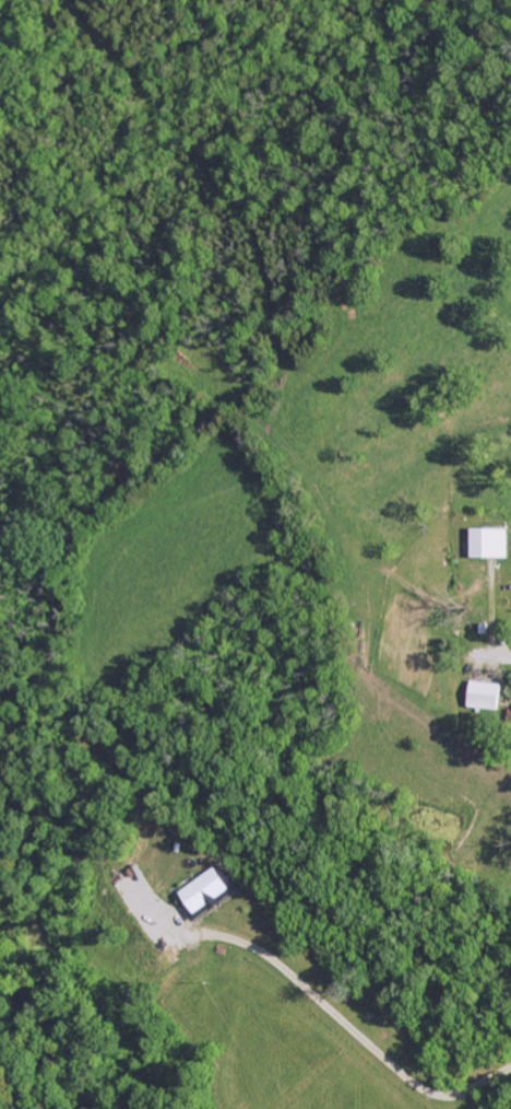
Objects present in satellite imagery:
building: (487, 541)
road: (492, 635)
building: (480, 694)
building: (203, 890)
road: (342, 1020)

